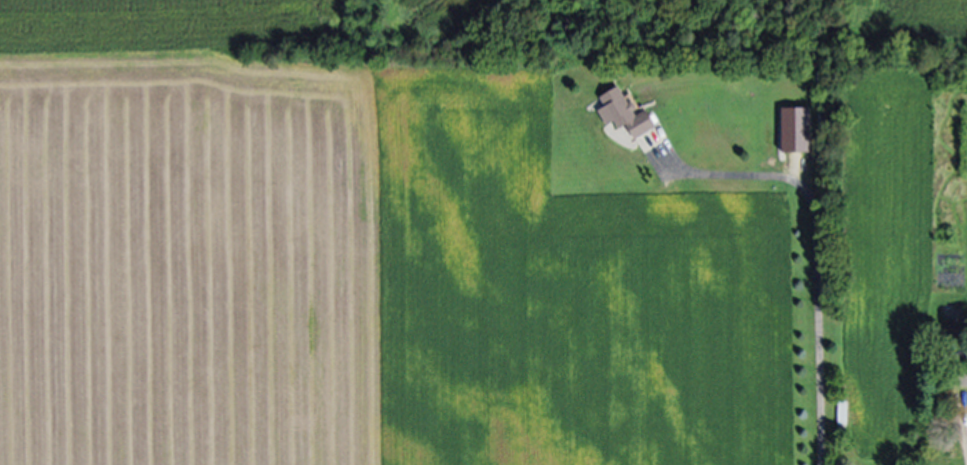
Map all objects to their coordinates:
building: (625, 114)
building: (798, 129)
road: (816, 249)
building: (958, 377)
building: (842, 413)

